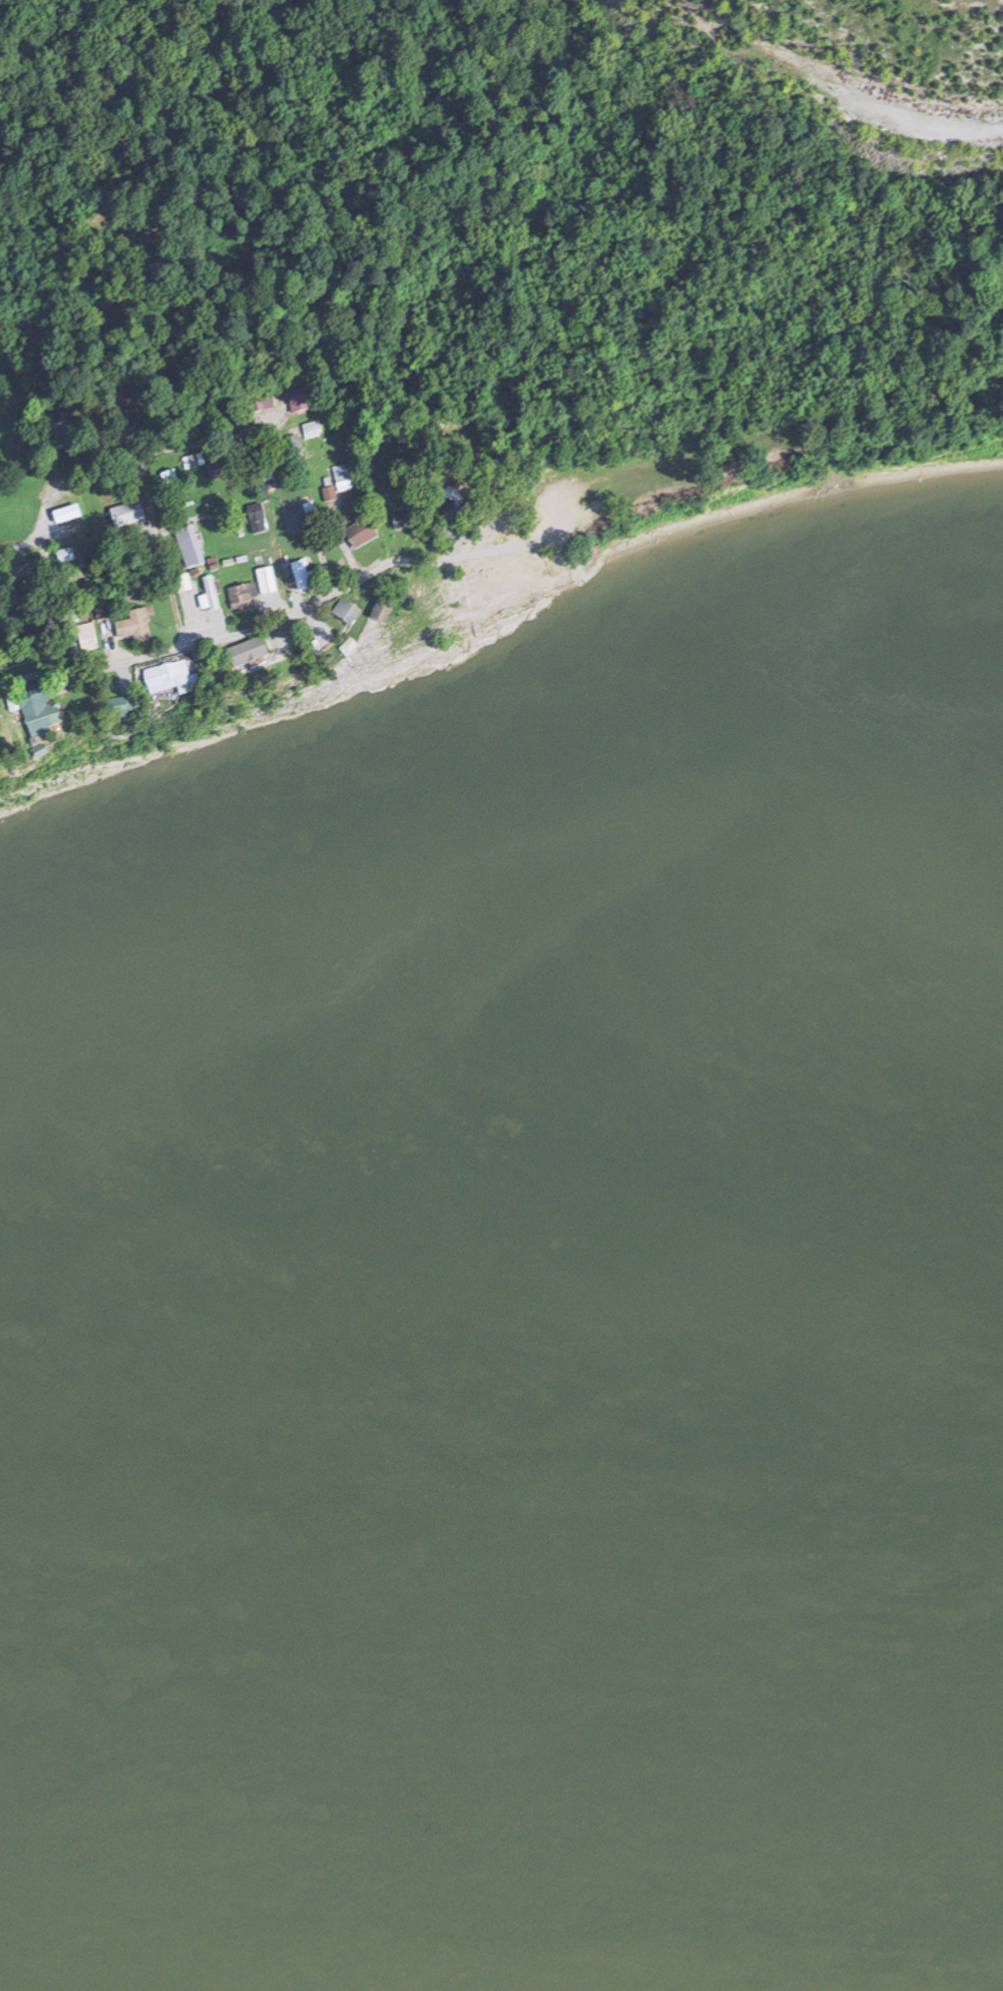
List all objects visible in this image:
quarry: (870, 69)
road: (833, 83)
building: (300, 401)
road: (282, 405)
road: (279, 424)
building: (227, 426)
building: (313, 431)
road: (247, 432)
building: (62, 433)
road: (203, 447)
building: (295, 447)
road: (161, 455)
building: (194, 462)
road: (144, 464)
building: (218, 471)
building: (171, 481)
road: (490, 491)
road: (45, 509)
building: (455, 510)
building: (68, 515)
building: (129, 515)
building: (300, 517)
building: (258, 519)
road: (174, 520)
building: (407, 520)
road: (64, 531)
building: (363, 534)
road: (458, 537)
road: (411, 539)
building: (939, 541)
building: (191, 547)
road: (16, 548)
road: (355, 552)
road: (14, 556)
road: (330, 563)
building: (304, 576)
road: (368, 579)
building: (268, 582)
road: (336, 591)
road: (300, 594)
building: (211, 597)
building: (244, 598)
road: (190, 605)
road: (45, 607)
building: (386, 612)
building: (348, 614)
road: (324, 617)
road: (222, 620)
road: (283, 625)
building: (137, 627)
road: (238, 627)
building: (89, 638)
road: (111, 639)
road: (193, 650)
building: (252, 653)
road: (125, 672)
building: (169, 678)
road: (55, 680)
building: (123, 709)
building: (42, 713)
building: (17, 733)
river: (499, 1523)

